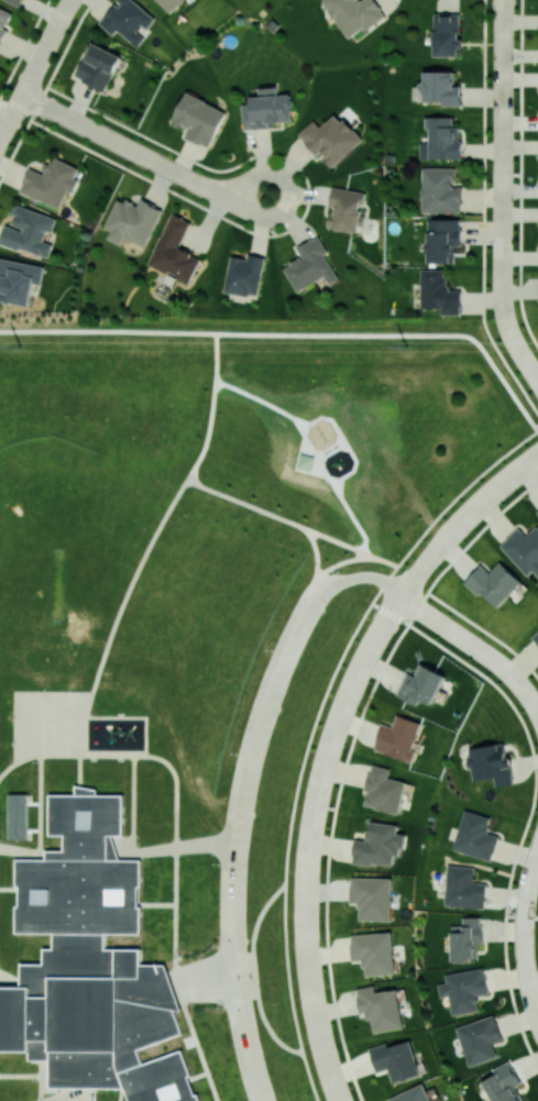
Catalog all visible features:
building: (18, 1)
building: (169, 3)
building: (354, 14)
building: (127, 20)
building: (4, 21)
building: (447, 34)
road: (47, 47)
building: (98, 66)
building: (439, 88)
building: (267, 109)
road: (11, 119)
building: (199, 119)
road: (502, 133)
building: (330, 139)
road: (143, 156)
road: (519, 175)
building: (51, 181)
building: (440, 190)
building: (344, 209)
road: (482, 213)
building: (132, 221)
building: (29, 231)
building: (442, 239)
building: (174, 251)
building: (309, 264)
building: (244, 274)
building: (18, 279)
building: (439, 291)
road: (502, 291)
road: (293, 333)
park: (526, 338)
power tower: (19, 346)
power tower: (406, 346)
road: (518, 349)
park: (378, 420)
road: (474, 504)
building: (537, 510)
road: (292, 522)
building: (523, 549)
road: (315, 552)
building: (493, 583)
road: (485, 631)
building: (535, 638)
road: (475, 645)
building: (421, 685)
road: (314, 727)
road: (330, 736)
building: (398, 738)
road: (84, 746)
road: (39, 755)
road: (348, 760)
building: (491, 763)
building: (383, 790)
road: (245, 795)
road: (534, 800)
road: (231, 801)
building: (18, 816)
building: (475, 836)
building: (378, 845)
building: (463, 888)
building: (372, 896)
road: (524, 933)
building: (466, 938)
building: (374, 951)
building: (90, 964)
road: (255, 973)
road: (213, 979)
building: (463, 989)
building: (381, 1008)
road: (315, 1016)
building: (479, 1039)
building: (395, 1060)
road: (32, 1076)
building: (503, 1083)
building: (411, 1094)
road: (72, 1098)

